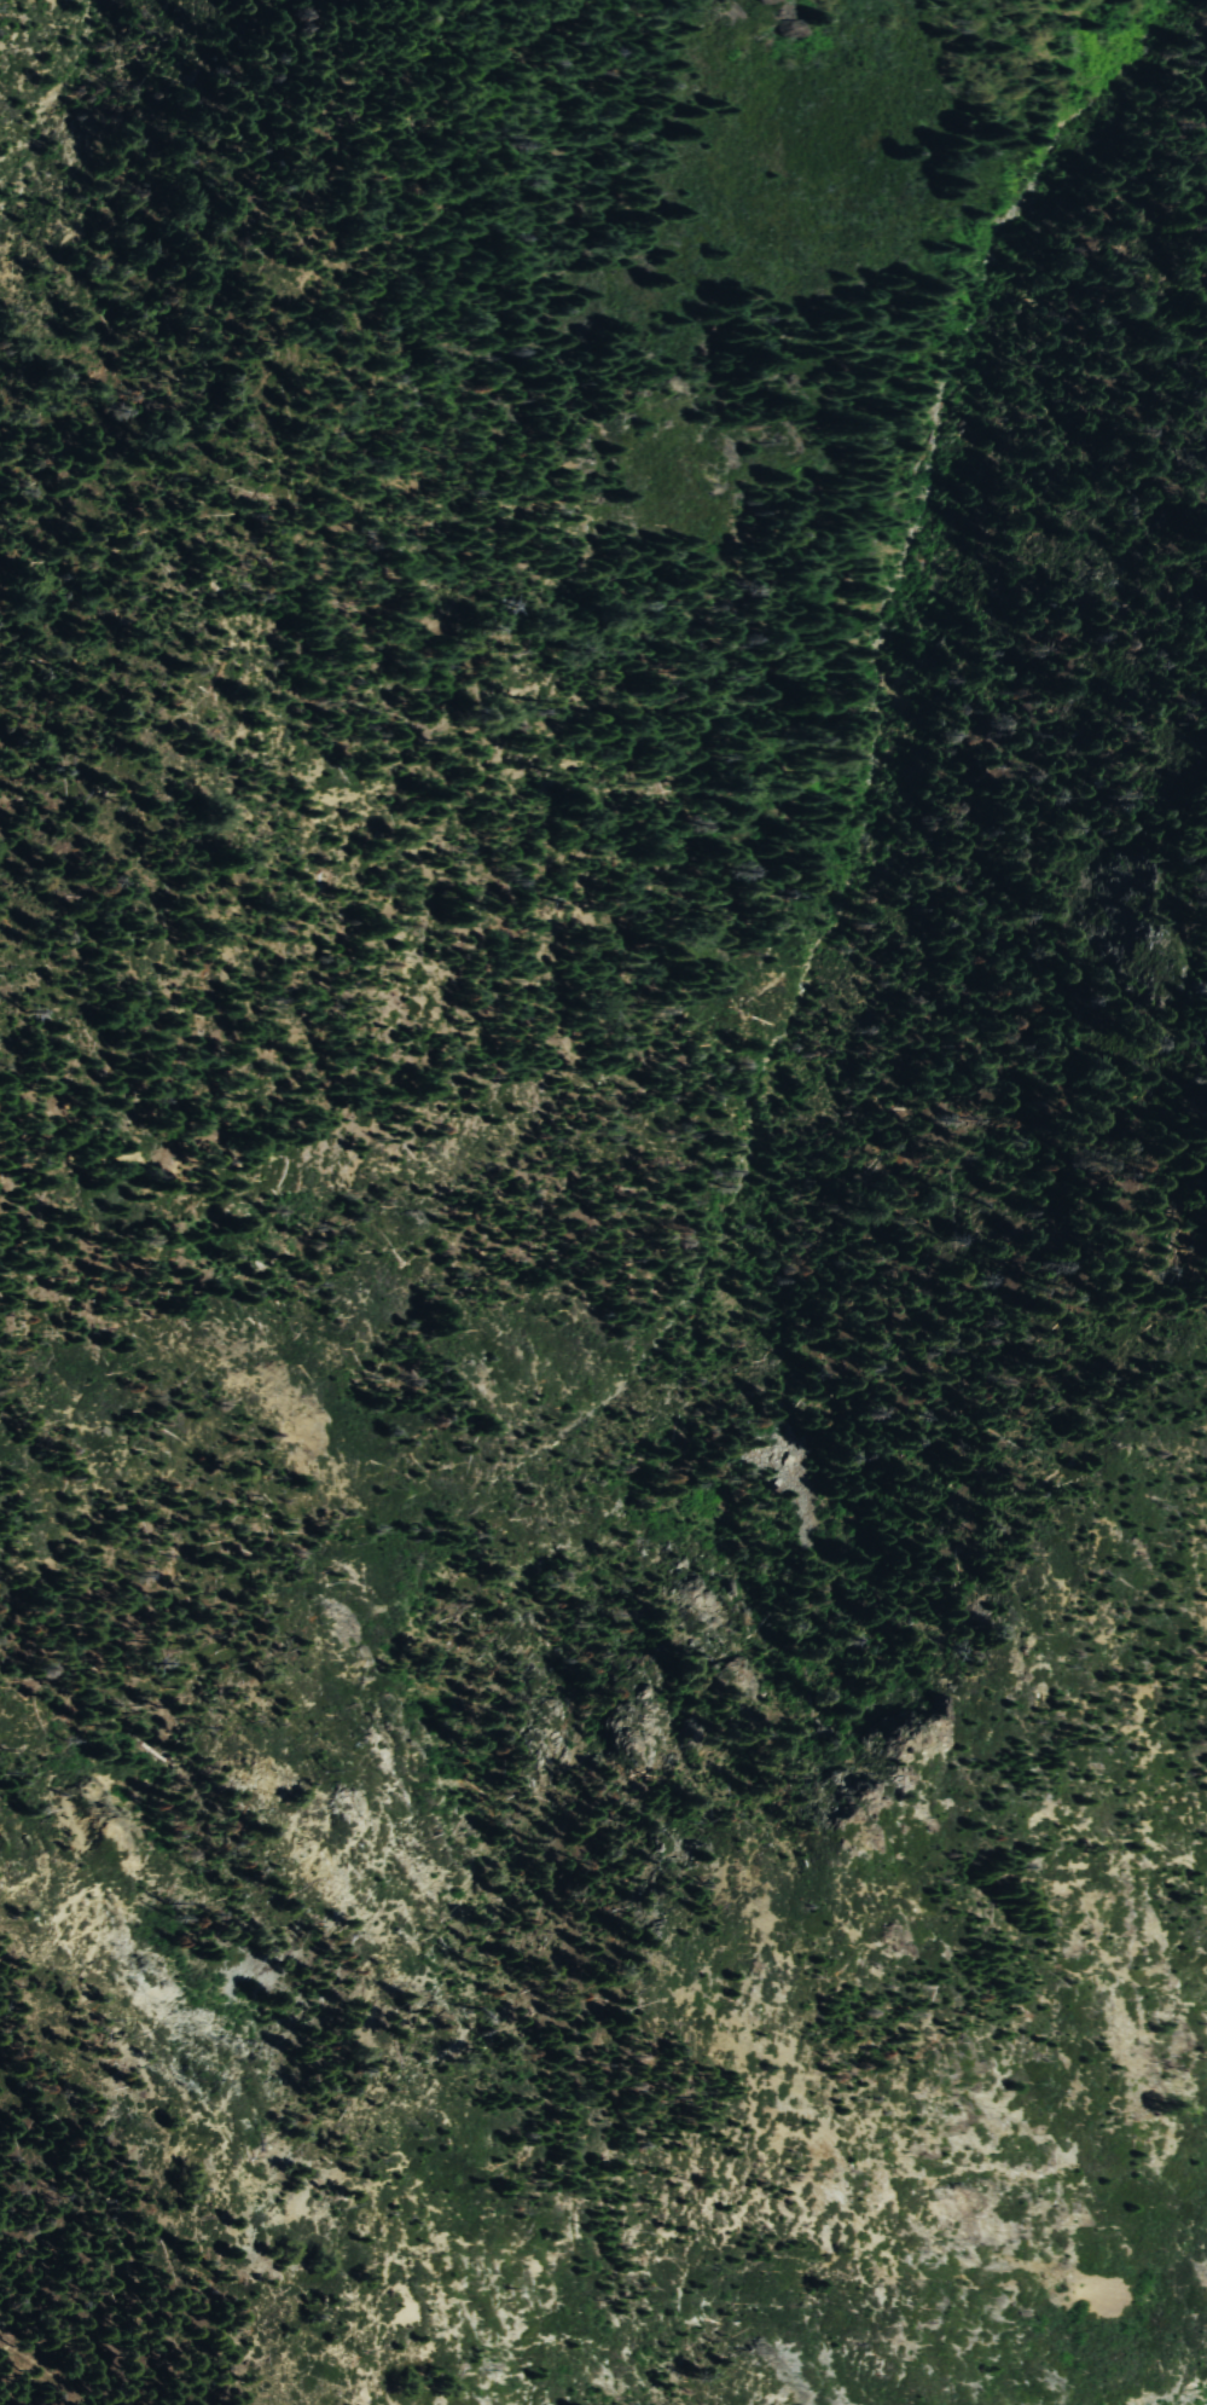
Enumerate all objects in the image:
road: (42, 2368)

